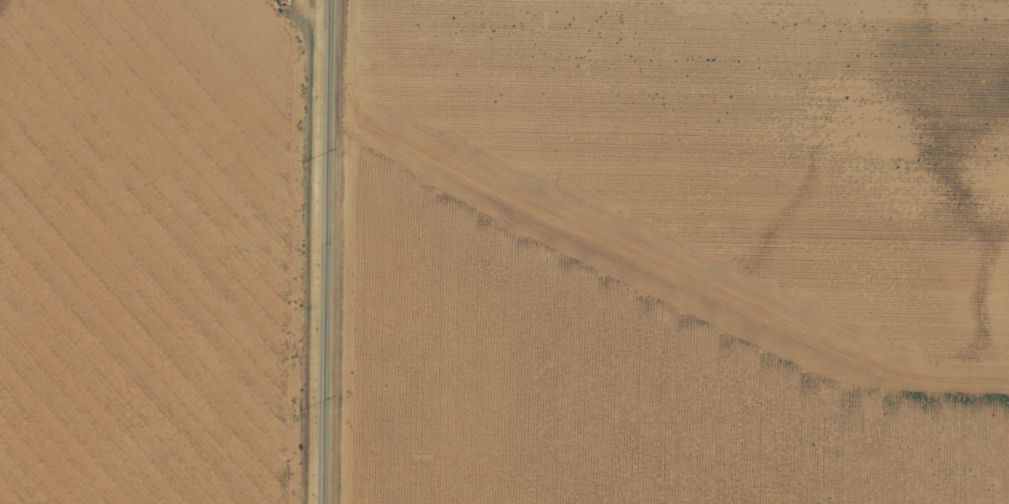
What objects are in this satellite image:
road: (337, 252)

